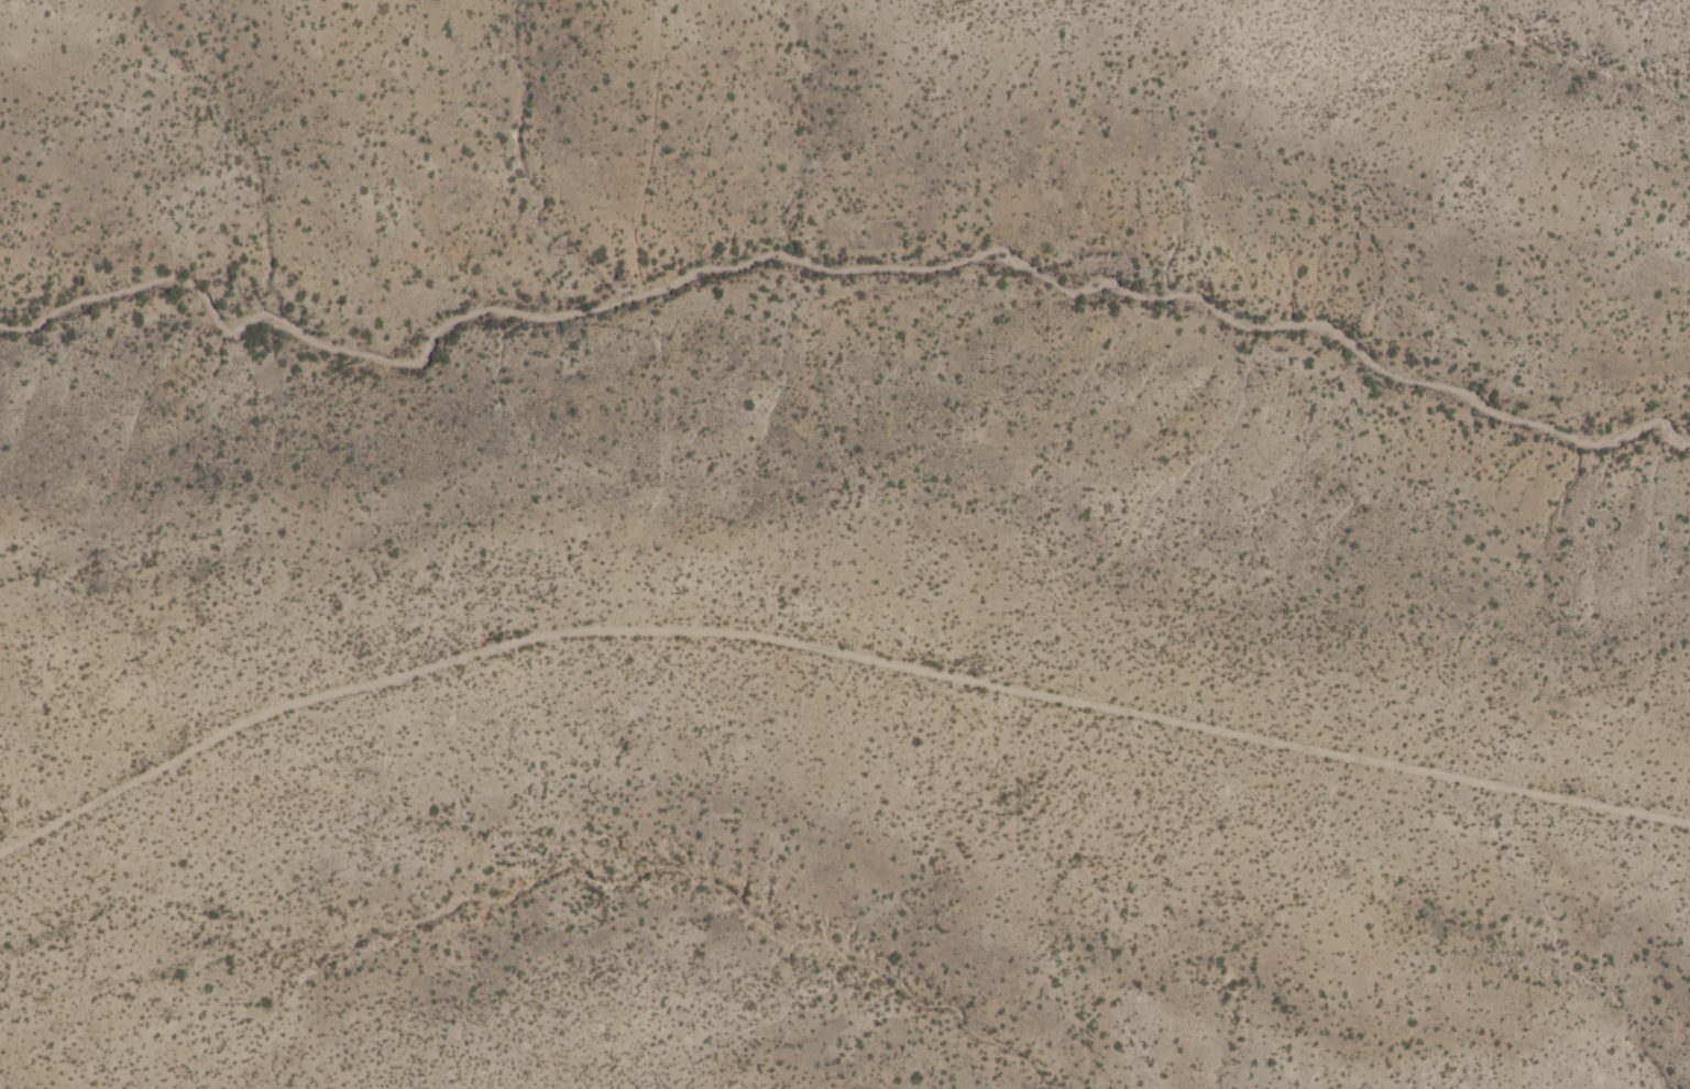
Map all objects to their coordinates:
road: (827, 652)

